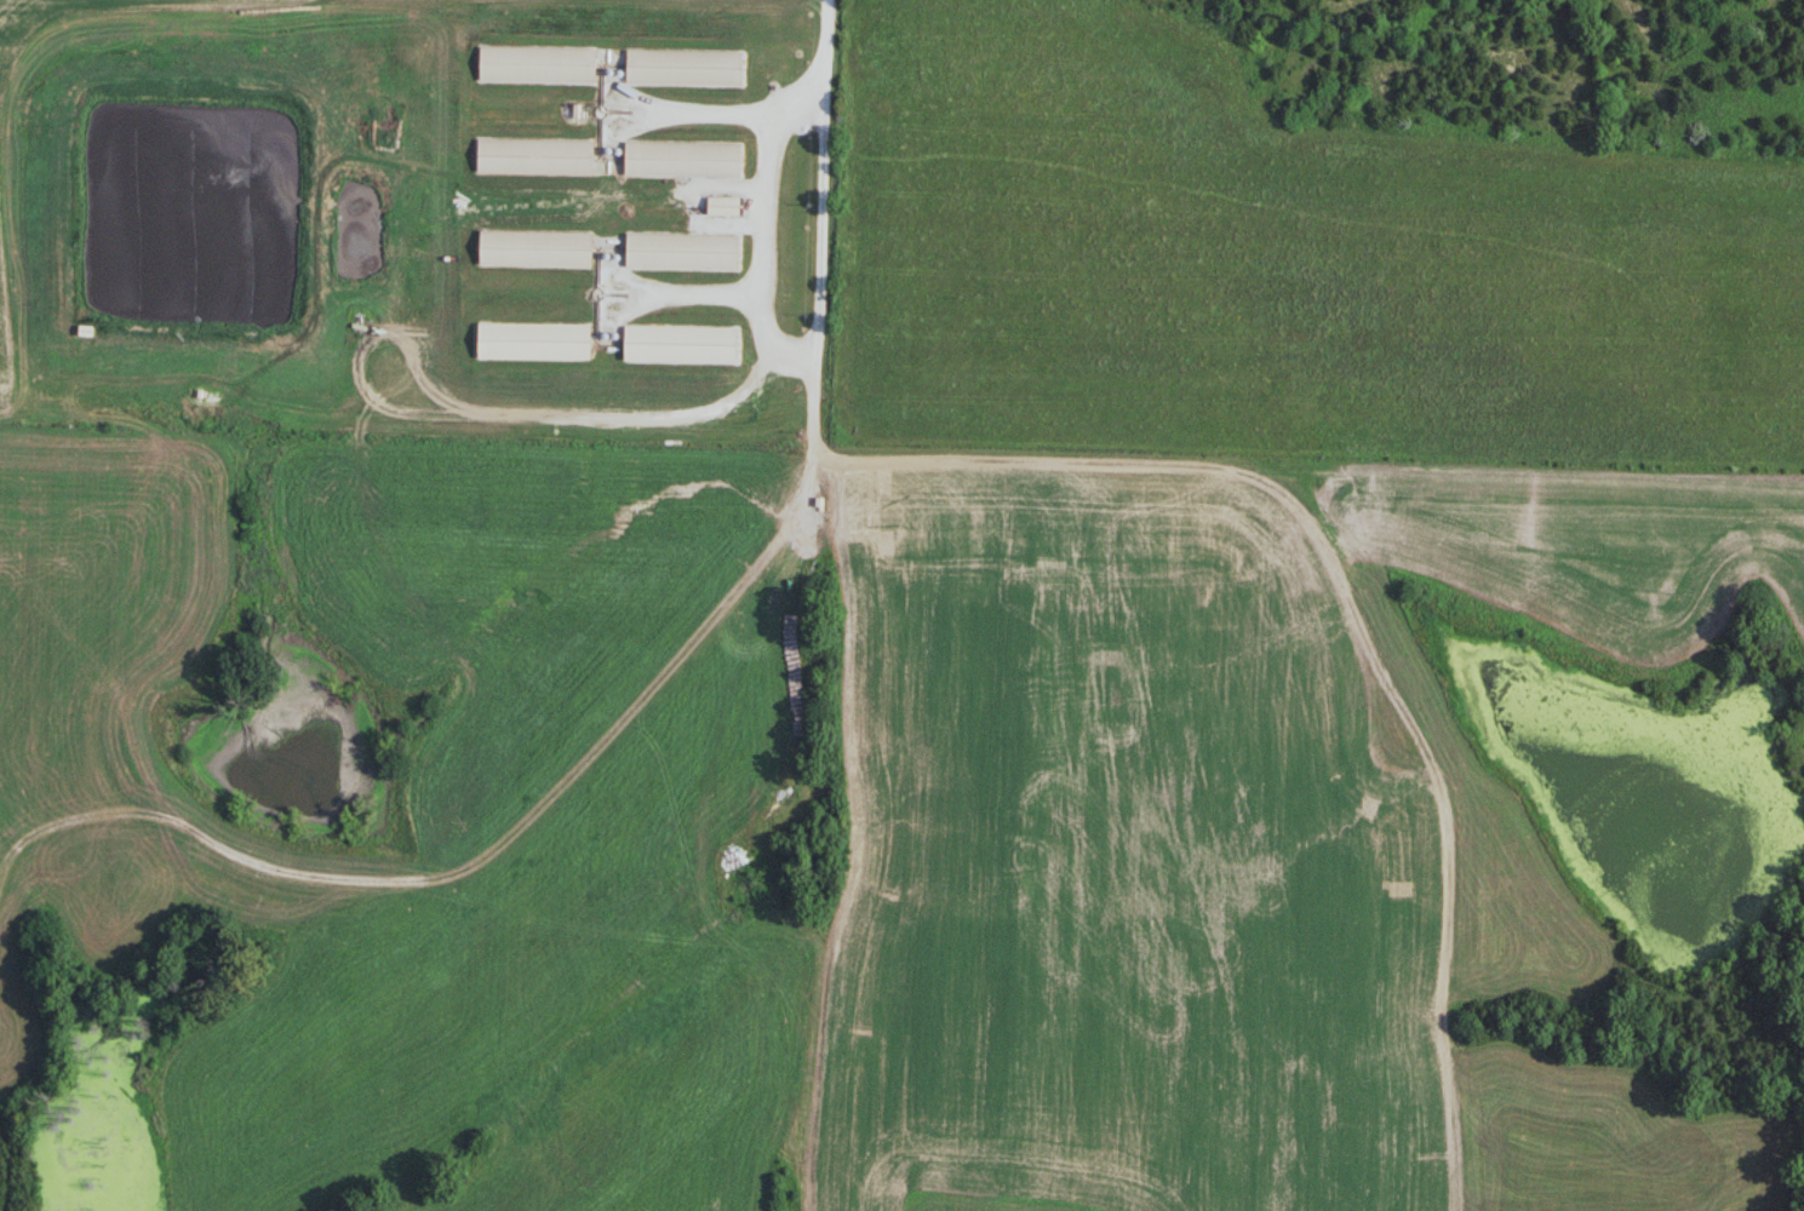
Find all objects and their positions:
road: (821, 45)
building: (536, 64)
building: (683, 67)
building: (537, 156)
building: (682, 159)
building: (722, 206)
building: (534, 247)
building: (682, 252)
building: (534, 340)
building: (680, 344)
road: (774, 348)

